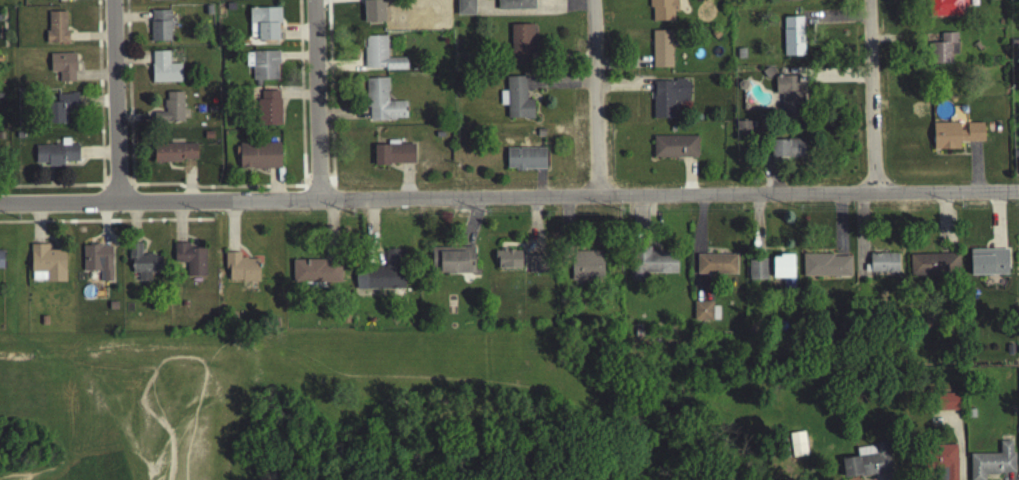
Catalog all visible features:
building: (64, 1)
building: (161, 1)
building: (789, 1)
building: (515, 6)
building: (465, 9)
building: (946, 9)
building: (662, 12)
building: (373, 14)
building: (263, 27)
building: (160, 29)
building: (56, 30)
building: (792, 39)
building: (521, 46)
building: (661, 52)
building: (943, 52)
building: (380, 58)
building: (263, 68)
building: (63, 69)
building: (164, 71)
road: (872, 96)
road: (596, 98)
building: (788, 98)
road: (316, 100)
building: (668, 100)
road: (117, 101)
building: (516, 102)
building: (382, 105)
building: (61, 110)
building: (170, 111)
building: (269, 111)
building: (955, 137)
building: (675, 150)
building: (787, 152)
building: (174, 155)
building: (55, 156)
building: (393, 157)
building: (259, 159)
building: (525, 162)
road: (509, 197)
building: (190, 262)
building: (508, 262)
building: (1, 263)
building: (452, 263)
building: (98, 264)
building: (143, 265)
building: (988, 265)
building: (649, 266)
building: (883, 266)
building: (47, 267)
building: (537, 267)
building: (716, 267)
building: (933, 268)
building: (586, 269)
building: (781, 269)
building: (825, 269)
building: (241, 271)
building: (756, 272)
building: (315, 274)
building: (383, 276)
building: (705, 314)
road: (172, 362)
road: (411, 381)
park: (397, 396)
building: (948, 405)
road: (154, 406)
road: (592, 431)
road: (181, 436)
road: (22, 440)
building: (797, 448)
road: (542, 452)
building: (940, 464)
building: (993, 464)
building: (867, 465)
road: (54, 466)
road: (354, 469)

